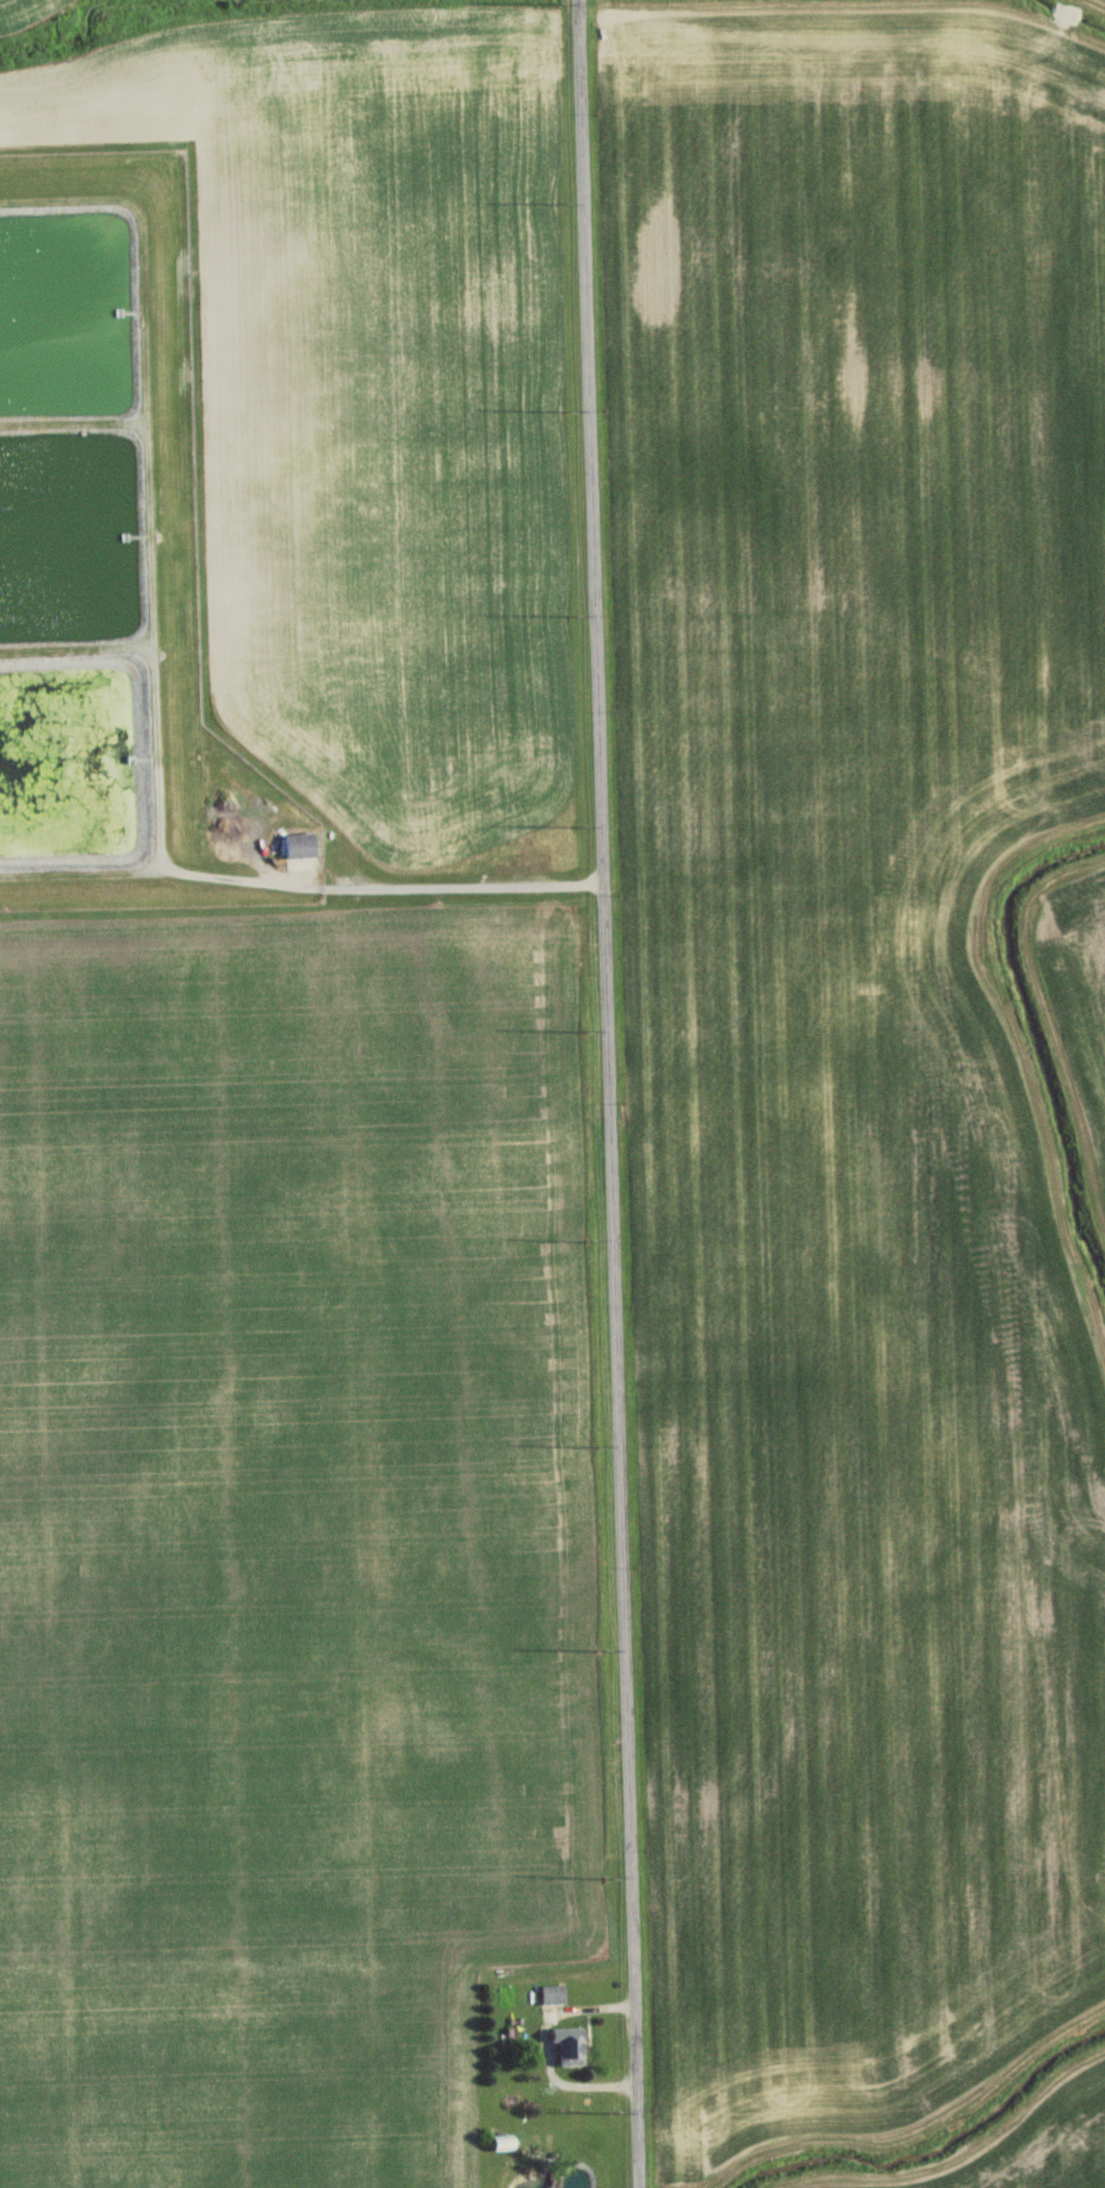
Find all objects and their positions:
crop: (2, 0)
crop: (1098, 2)
crop: (367, 403)
crop: (1075, 1016)
crop: (861, 1045)
road: (605, 1094)
crop: (286, 1537)
building: (547, 1995)
road: (545, 2042)
crop: (1035, 2145)

